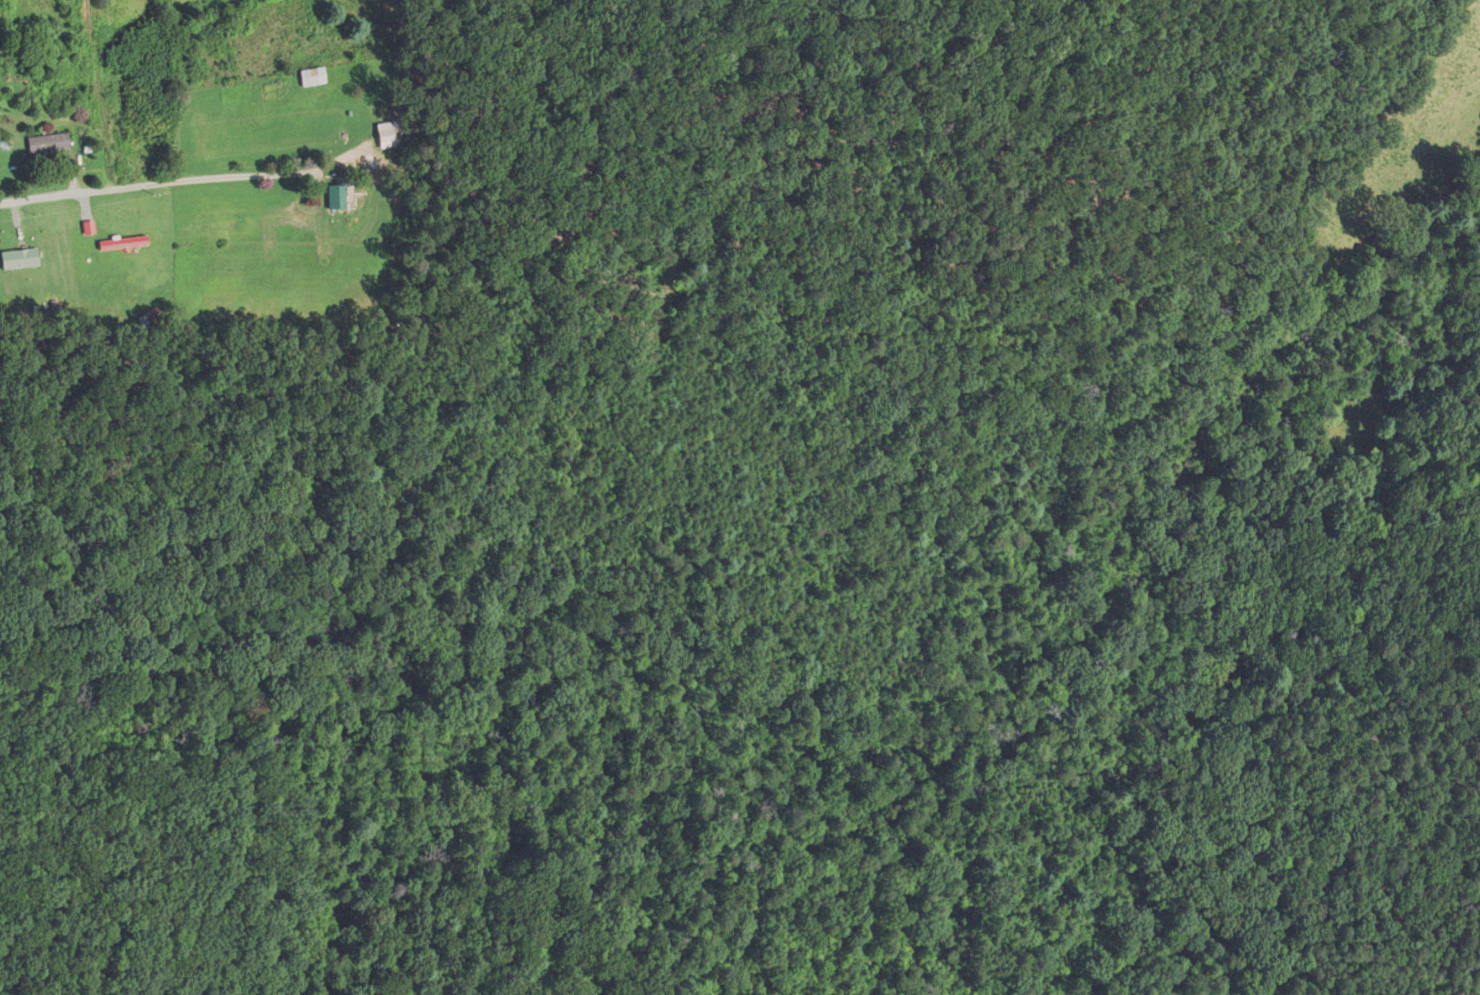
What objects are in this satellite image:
building: (311, 76)
building: (386, 135)
building: (39, 143)
road: (267, 174)
road: (84, 192)
building: (336, 196)
building: (118, 243)
building: (18, 259)

